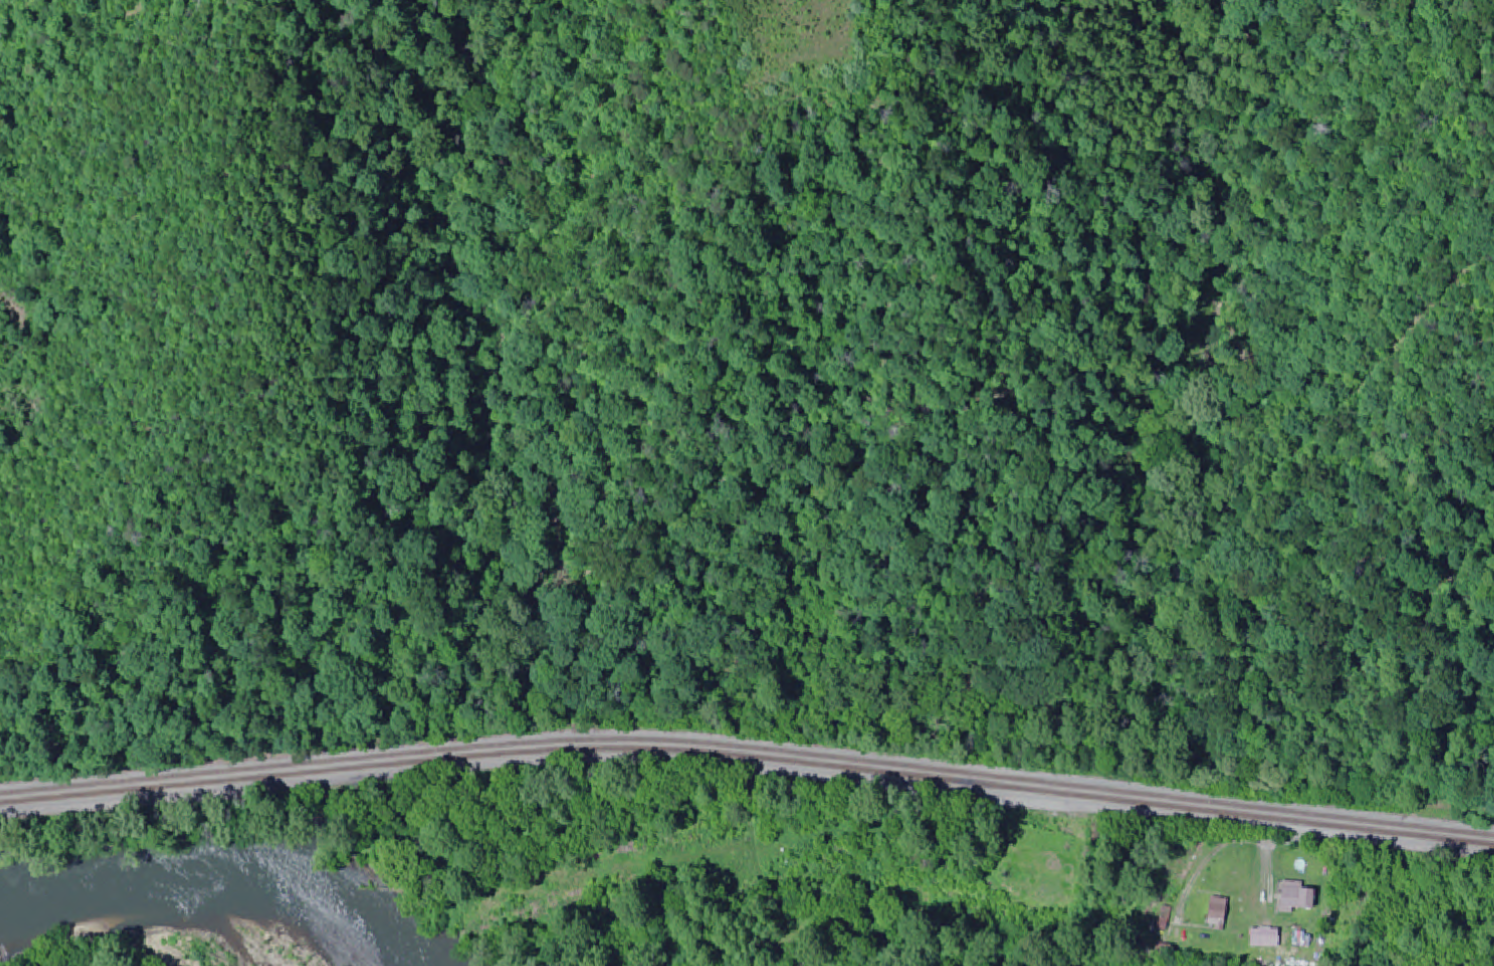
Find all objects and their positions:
railway: (747, 749)
road: (748, 771)
river: (220, 885)
building: (1289, 897)
building: (1215, 913)

